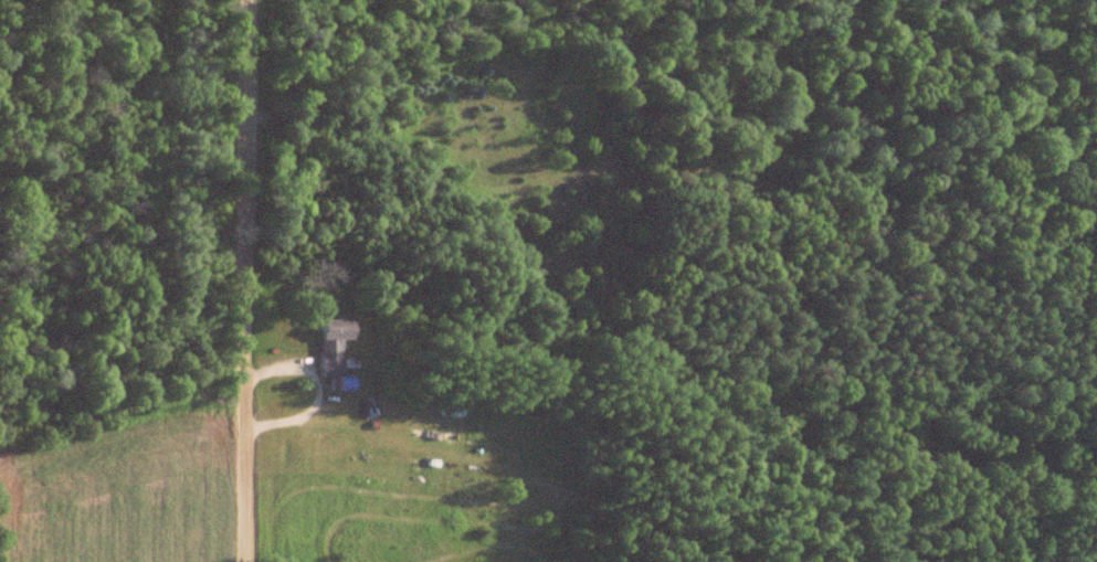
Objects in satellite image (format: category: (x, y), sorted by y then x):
road: (245, 280)
building: (331, 344)

